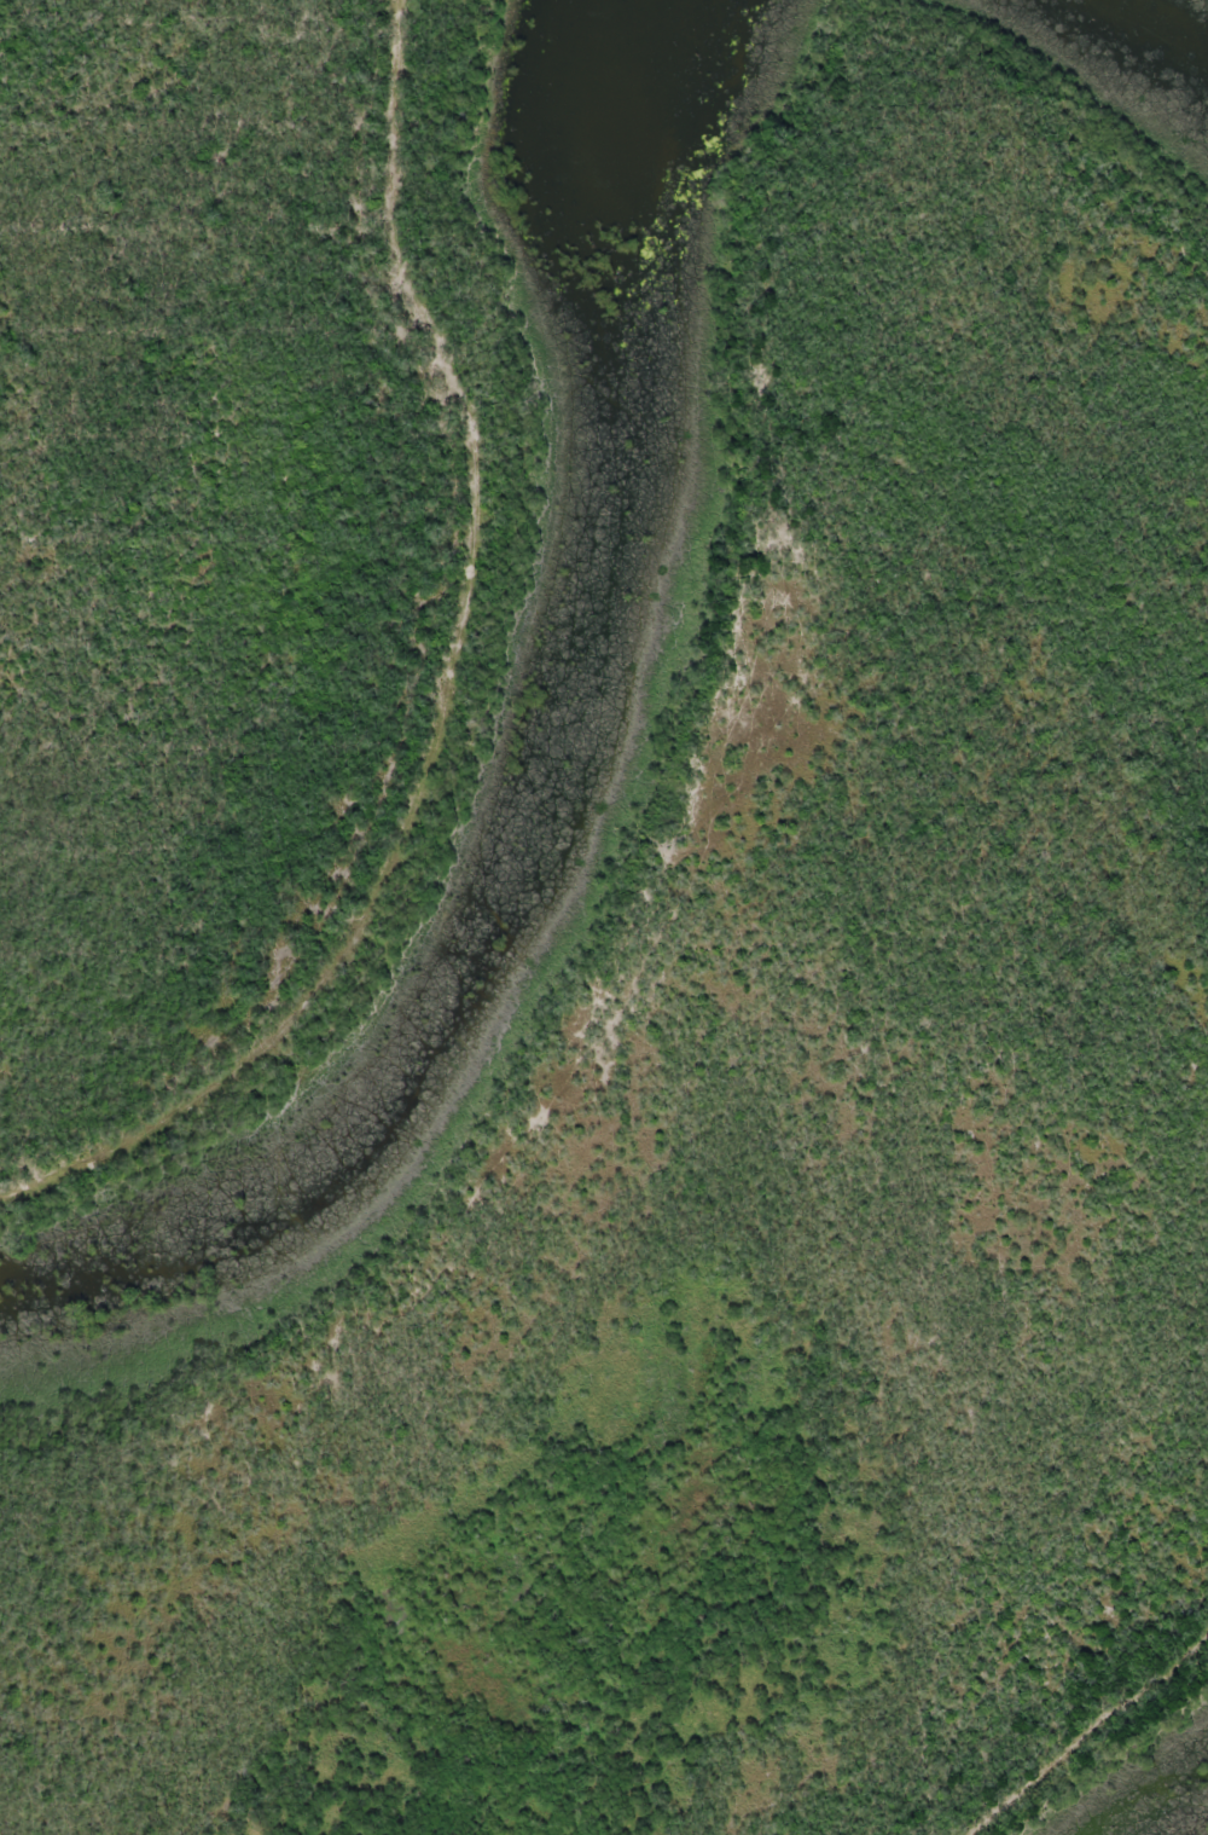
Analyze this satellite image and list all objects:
river: (1157, 29)
road: (373, 658)
river: (557, 787)
road: (1064, 1713)

